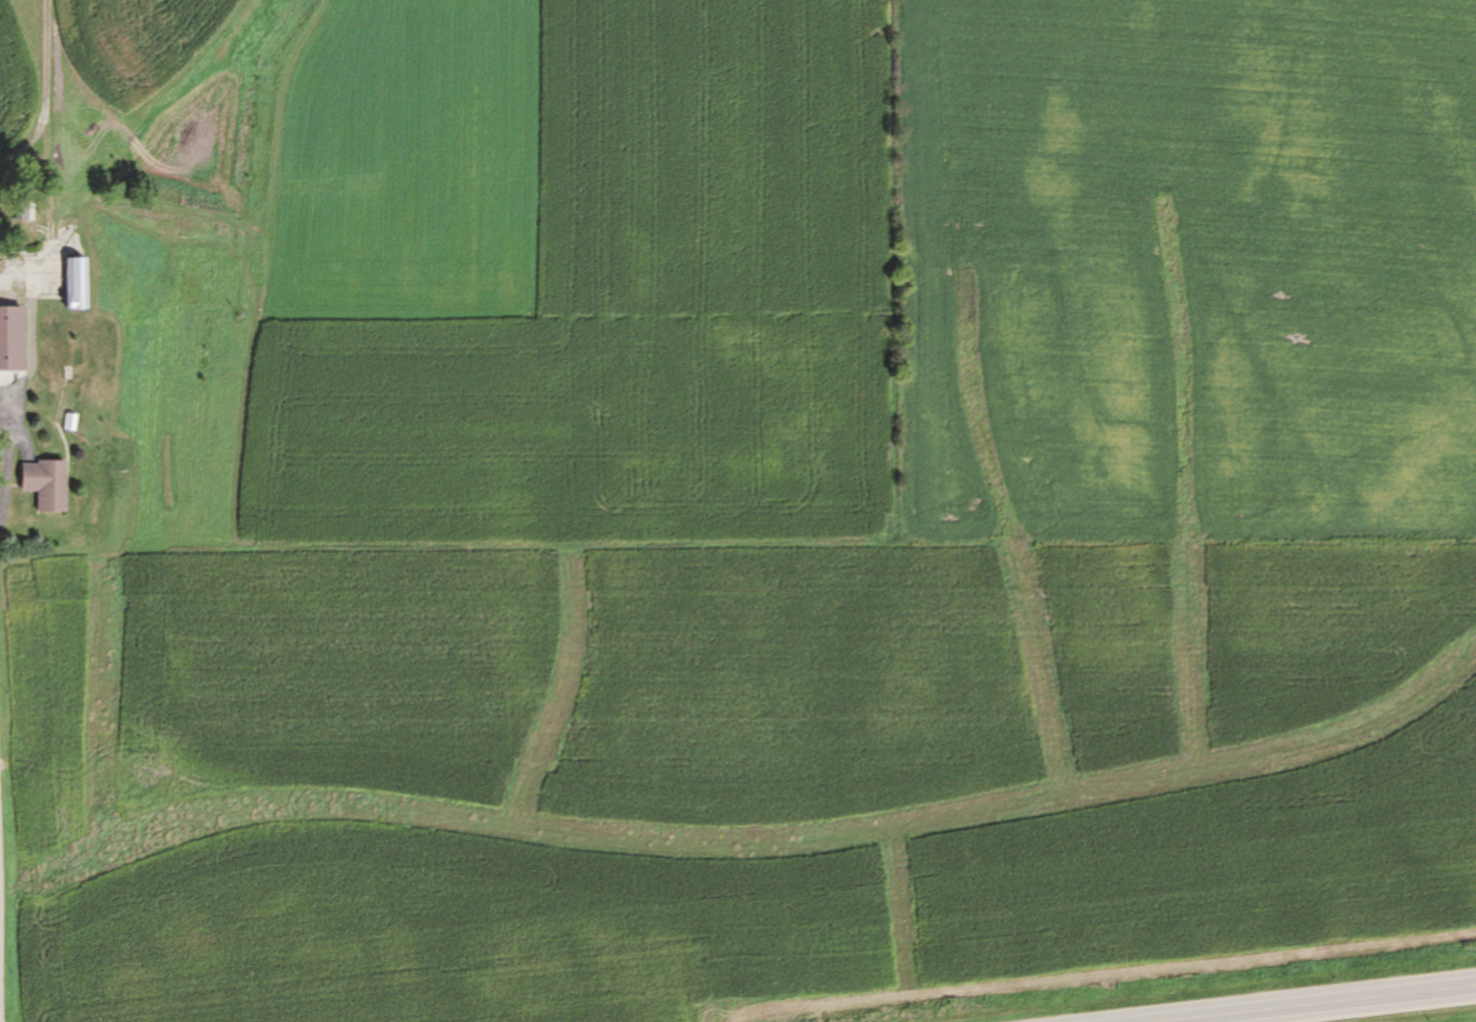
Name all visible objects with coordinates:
building: (21, 208)
building: (67, 283)
building: (3, 335)
building: (62, 345)
building: (35, 483)
road: (1319, 1005)

